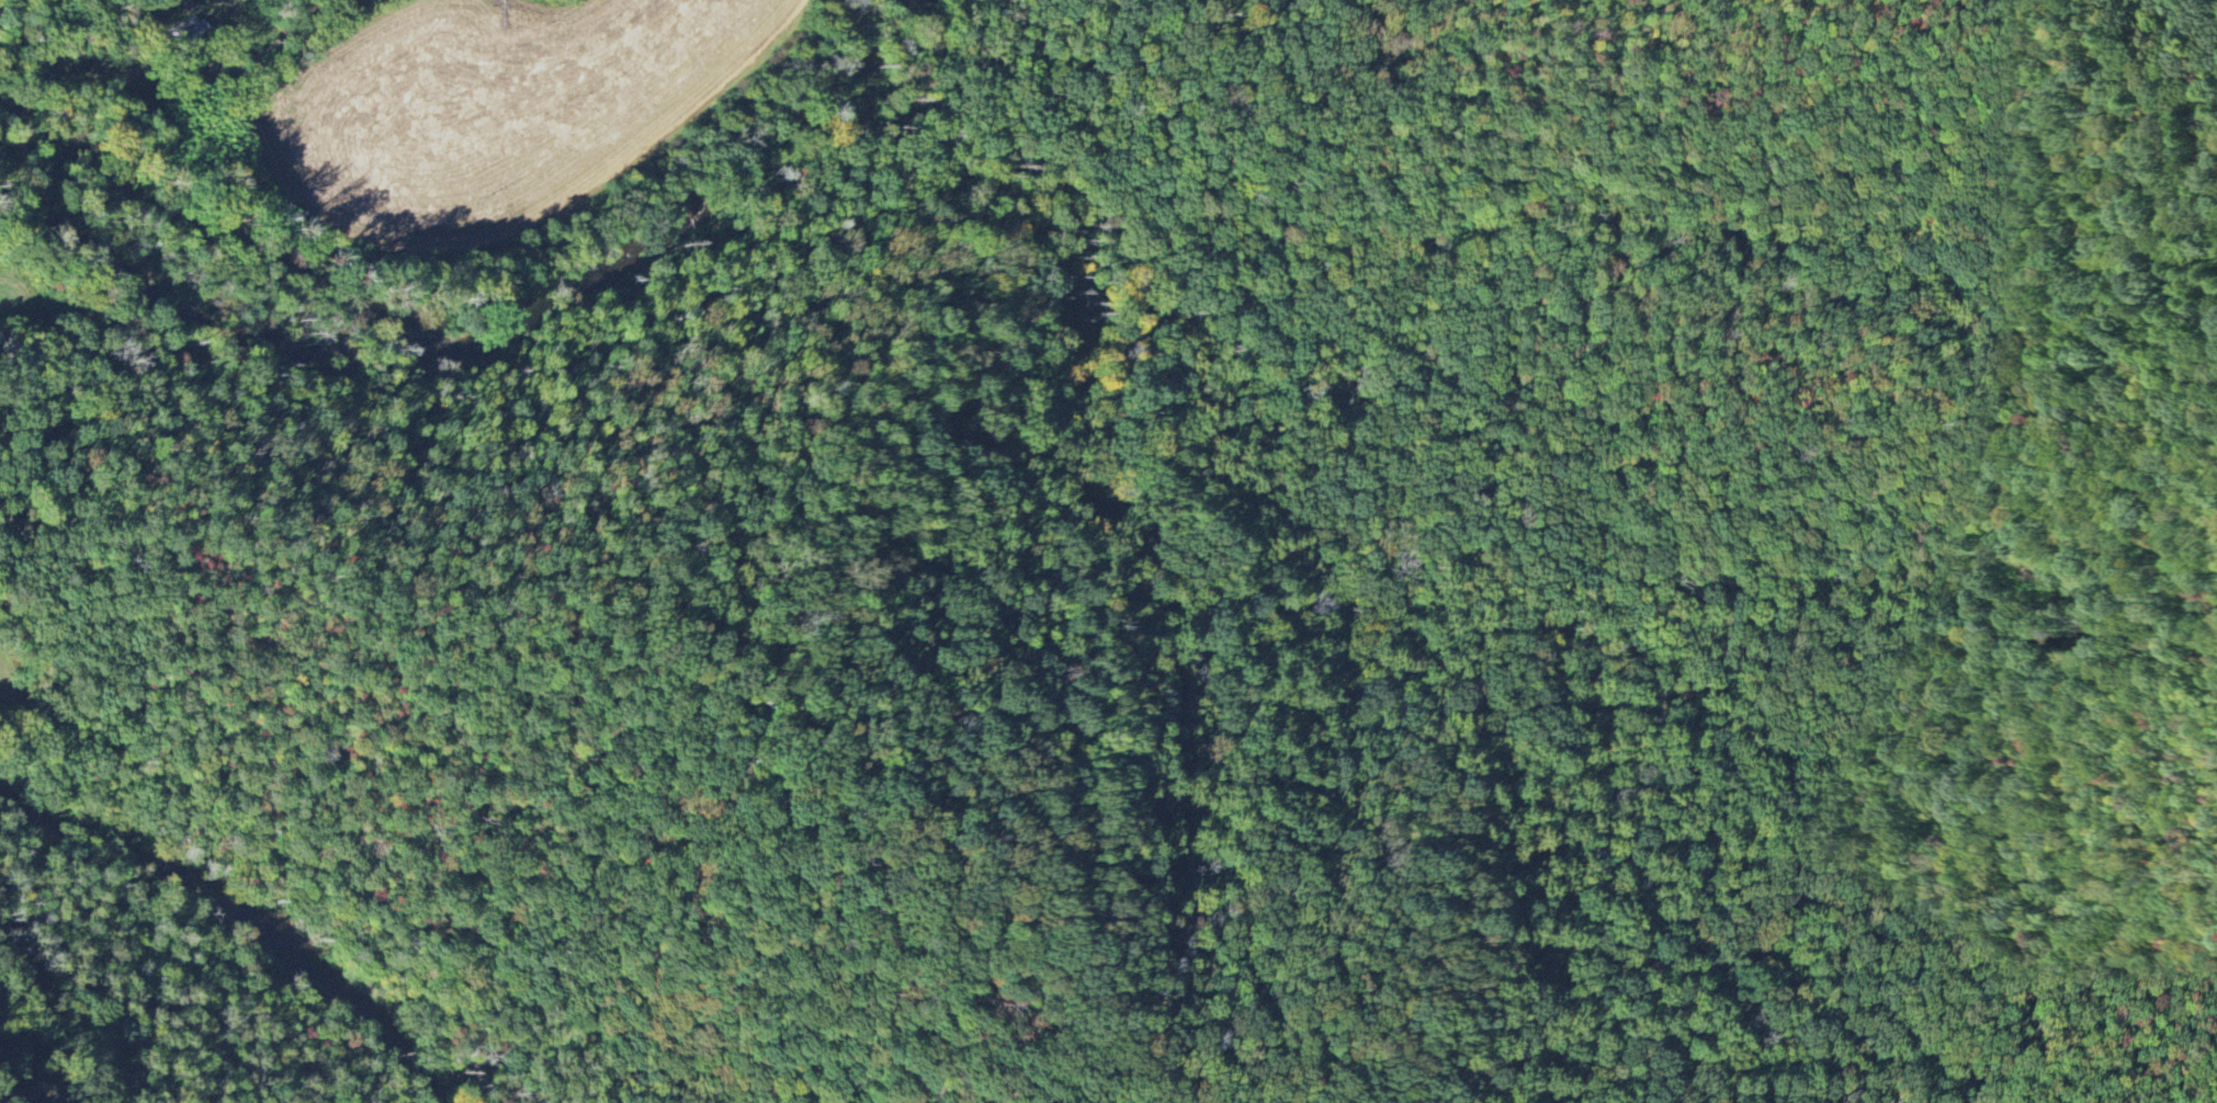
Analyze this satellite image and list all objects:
river: (697, 200)
river: (226, 241)
river: (241, 909)

